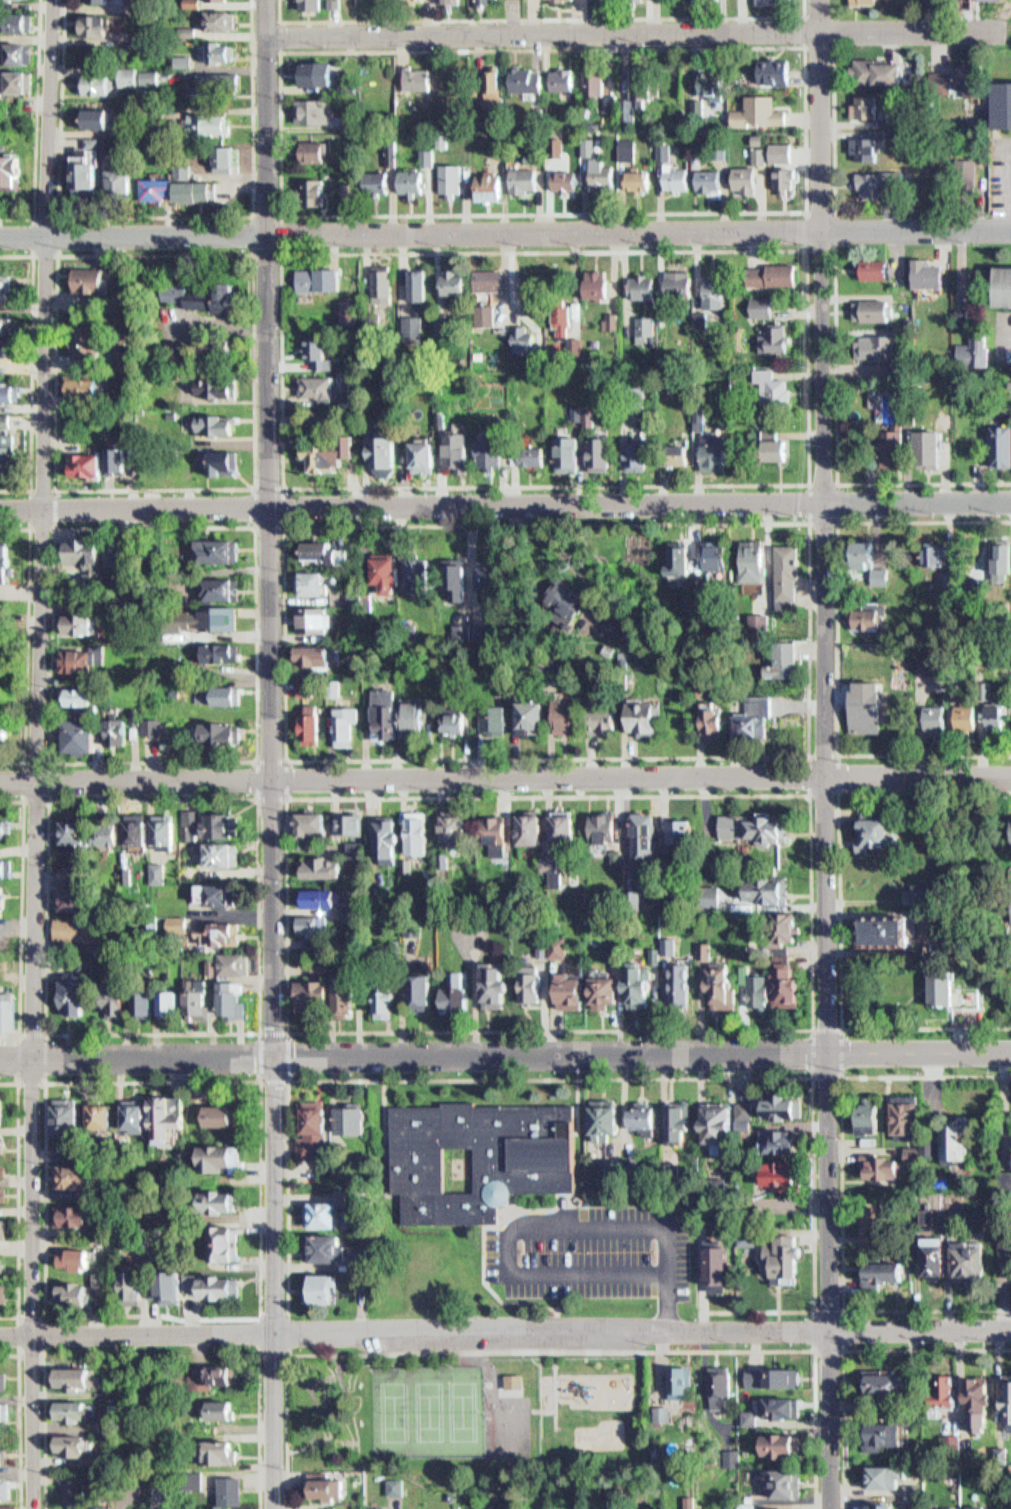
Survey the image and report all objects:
building: (418, 0)
building: (452, 0)
building: (489, 0)
building: (565, 0)
building: (710, 0)
building: (101, 1)
building: (974, 1)
building: (778, 2)
building: (870, 2)
building: (188, 3)
building: (219, 3)
building: (337, 3)
building: (315, 5)
road: (541, 18)
building: (11, 20)
building: (218, 20)
road: (279, 21)
building: (96, 26)
building: (184, 29)
road: (623, 33)
road: (806, 45)
road: (278, 49)
building: (222, 52)
building: (11, 54)
building: (180, 60)
building: (778, 71)
building: (315, 73)
building: (884, 73)
building: (136, 75)
building: (417, 78)
building: (595, 79)
building: (212, 80)
building: (530, 80)
building: (566, 80)
building: (97, 82)
building: (499, 82)
building: (972, 82)
building: (10, 83)
building: (715, 83)
building: (489, 87)
building: (640, 91)
building: (1002, 105)
building: (315, 110)
building: (767, 111)
building: (98, 116)
building: (350, 120)
building: (206, 123)
road: (33, 124)
building: (125, 129)
road: (835, 129)
building: (439, 140)
building: (497, 146)
building: (590, 146)
building: (873, 146)
building: (630, 148)
building: (311, 150)
building: (392, 150)
building: (428, 157)
building: (222, 158)
building: (90, 169)
building: (11, 170)
building: (184, 170)
building: (787, 172)
building: (678, 177)
building: (605, 178)
building: (451, 179)
building: (374, 180)
building: (410, 180)
building: (644, 180)
building: (713, 180)
building: (748, 180)
building: (526, 181)
building: (567, 181)
building: (125, 182)
building: (883, 185)
building: (162, 186)
building: (488, 186)
building: (200, 189)
building: (349, 189)
building: (313, 191)
road: (806, 210)
road: (156, 214)
road: (505, 232)
road: (806, 248)
road: (253, 252)
road: (32, 254)
road: (56, 258)
building: (880, 268)
building: (934, 272)
building: (93, 274)
building: (779, 274)
building: (491, 276)
building: (324, 277)
building: (384, 277)
building: (419, 278)
building: (454, 279)
building: (682, 281)
building: (647, 285)
building: (1004, 285)
building: (600, 286)
building: (7, 287)
building: (717, 290)
building: (208, 292)
building: (766, 305)
building: (881, 309)
building: (489, 311)
building: (446, 319)
building: (612, 320)
building: (563, 321)
building: (7, 322)
building: (415, 324)
building: (646, 329)
building: (92, 336)
parking lot: (1003, 336)
building: (524, 338)
building: (780, 338)
building: (222, 344)
building: (880, 345)
building: (0, 346)
building: (325, 350)
building: (978, 351)
building: (114, 363)
road: (30, 369)
building: (220, 387)
building: (321, 387)
building: (780, 387)
building: (79, 390)
building: (4, 393)
building: (700, 414)
building: (447, 416)
building: (5, 418)
building: (218, 423)
building: (135, 425)
building: (462, 444)
building: (1002, 444)
building: (940, 446)
building: (781, 447)
building: (490, 448)
building: (900, 448)
building: (718, 449)
building: (390, 450)
building: (640, 450)
building: (10, 451)
building: (333, 451)
road: (838, 451)
building: (428, 452)
building: (570, 452)
building: (603, 452)
building: (542, 454)
building: (121, 456)
building: (220, 459)
building: (89, 462)
road: (505, 504)
road: (809, 521)
road: (282, 525)
road: (52, 527)
building: (222, 549)
building: (174, 551)
building: (327, 551)
building: (856, 553)
building: (716, 554)
building: (755, 554)
building: (940, 554)
building: (6, 560)
building: (314, 560)
building: (100, 561)
building: (789, 571)
building: (424, 572)
building: (494, 574)
building: (390, 575)
building: (878, 575)
building: (941, 578)
building: (314, 582)
building: (381, 582)
building: (413, 582)
building: (225, 587)
building: (451, 594)
building: (225, 617)
building: (318, 618)
building: (870, 618)
building: (86, 622)
road: (838, 635)
road: (26, 642)
building: (226, 651)
building: (89, 658)
building: (320, 658)
building: (785, 658)
building: (934, 665)
building: (230, 694)
building: (84, 696)
building: (873, 710)
building: (1000, 713)
building: (389, 714)
building: (943, 714)
building: (573, 715)
building: (418, 716)
building: (539, 716)
building: (969, 716)
building: (655, 717)
building: (500, 718)
building: (6, 720)
building: (611, 720)
building: (720, 720)
building: (458, 722)
building: (758, 724)
building: (154, 726)
building: (350, 726)
building: (315, 728)
building: (122, 731)
building: (227, 733)
building: (85, 735)
road: (37, 754)
road: (270, 754)
road: (827, 754)
road: (811, 756)
road: (52, 760)
road: (505, 778)
road: (840, 788)
road: (286, 797)
road: (23, 799)
building: (353, 822)
building: (317, 823)
building: (225, 824)
building: (610, 824)
building: (1007, 824)
building: (8, 827)
building: (759, 827)
building: (143, 828)
building: (537, 828)
building: (570, 828)
building: (890, 828)
building: (458, 829)
building: (168, 830)
building: (686, 830)
building: (76, 834)
building: (422, 834)
building: (649, 834)
building: (501, 835)
building: (392, 840)
building: (224, 853)
building: (328, 866)
building: (7, 868)
building: (778, 888)
building: (934, 892)
building: (228, 895)
building: (718, 895)
building: (74, 898)
building: (2, 899)
building: (333, 901)
building: (1009, 902)
road: (842, 906)
road: (20, 913)
building: (313, 923)
building: (887, 923)
building: (793, 928)
building: (82, 929)
building: (224, 930)
building: (777, 930)
building: (553, 942)
building: (696, 942)
building: (534, 943)
building: (608, 946)
building: (617, 952)
building: (236, 963)
building: (323, 968)
building: (677, 979)
building: (487, 980)
building: (525, 980)
building: (719, 981)
building: (783, 982)
building: (502, 983)
building: (633, 983)
building: (647, 984)
building: (536, 985)
building: (567, 985)
building: (752, 985)
building: (952, 985)
building: (602, 986)
building: (461, 989)
building: (765, 990)
building: (350, 991)
building: (427, 991)
building: (78, 993)
building: (116, 995)
building: (317, 995)
building: (390, 998)
building: (234, 999)
building: (146, 1001)
building: (172, 1003)
building: (199, 1003)
building: (8, 1010)
road: (287, 1030)
road: (255, 1032)
road: (505, 1053)
road: (813, 1074)
road: (604, 1076)
road: (259, 1080)
road: (152, 1081)
road: (43, 1082)
building: (777, 1100)
building: (2, 1111)
building: (863, 1111)
building: (901, 1112)
building: (597, 1113)
building: (169, 1114)
building: (222, 1114)
building: (638, 1114)
building: (136, 1115)
building: (875, 1117)
building: (68, 1118)
building: (715, 1118)
building: (103, 1119)
building: (353, 1119)
building: (669, 1119)
building: (680, 1124)
building: (316, 1131)
building: (953, 1134)
building: (776, 1135)
building: (3, 1145)
building: (927, 1151)
building: (475, 1155)
building: (224, 1158)
building: (884, 1158)
building: (1009, 1160)
building: (605, 1164)
building: (777, 1166)
building: (3, 1170)
building: (76, 1175)
road: (843, 1191)
building: (3, 1194)
building: (355, 1196)
road: (17, 1198)
building: (225, 1200)
building: (868, 1214)
building: (76, 1215)
building: (324, 1215)
road: (530, 1221)
building: (3, 1229)
building: (227, 1238)
parking lot: (581, 1248)
building: (776, 1249)
building: (342, 1251)
building: (933, 1251)
building: (966, 1253)
building: (80, 1258)
building: (713, 1258)
building: (3, 1262)
building: (876, 1267)
building: (138, 1283)
building: (218, 1286)
building: (177, 1287)
building: (325, 1289)
building: (82, 1292)
building: (5, 1294)
road: (261, 1314)
road: (505, 1328)
parking lot: (486, 1338)
road: (844, 1348)
road: (847, 1348)
road: (19, 1351)
road: (555, 1351)
building: (766, 1372)
building: (230, 1375)
building: (876, 1375)
building: (5, 1377)
building: (673, 1378)
building: (79, 1379)
building: (711, 1379)
building: (890, 1383)
building: (942, 1385)
building: (723, 1389)
building: (953, 1389)
building: (973, 1396)
building: (1006, 1398)
building: (774, 1402)
building: (985, 1402)
building: (228, 1408)
park: (509, 1409)
park: (427, 1410)
building: (74, 1411)
building: (6, 1412)
building: (739, 1412)
road: (20, 1420)
building: (877, 1426)
road: (261, 1429)
road: (45, 1430)
building: (772, 1439)
building: (79, 1445)
building: (995, 1448)
building: (229, 1451)
building: (6, 1457)
building: (877, 1471)
building: (776, 1478)
building: (8, 1487)
building: (335, 1487)
building: (906, 1487)
building: (235, 1488)
building: (610, 1488)
building: (76, 1491)
building: (618, 1497)
building: (723, 1503)
building: (875, 1503)
building: (970, 1505)
building: (575, 1507)
building: (630, 1507)
building: (781, 1507)
building: (982, 1507)
building: (931, 1508)

